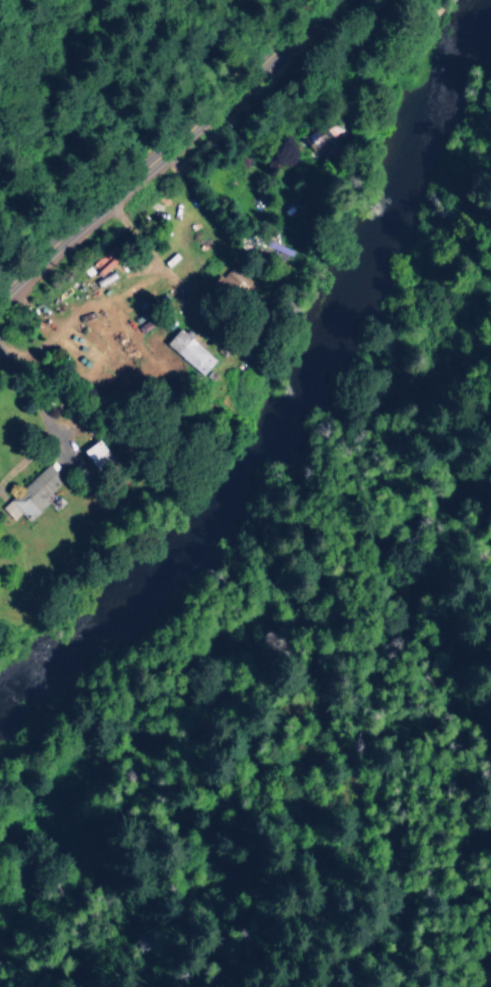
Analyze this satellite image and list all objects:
road: (166, 149)
building: (234, 279)
building: (188, 351)
river: (289, 386)
building: (95, 454)
building: (31, 494)

